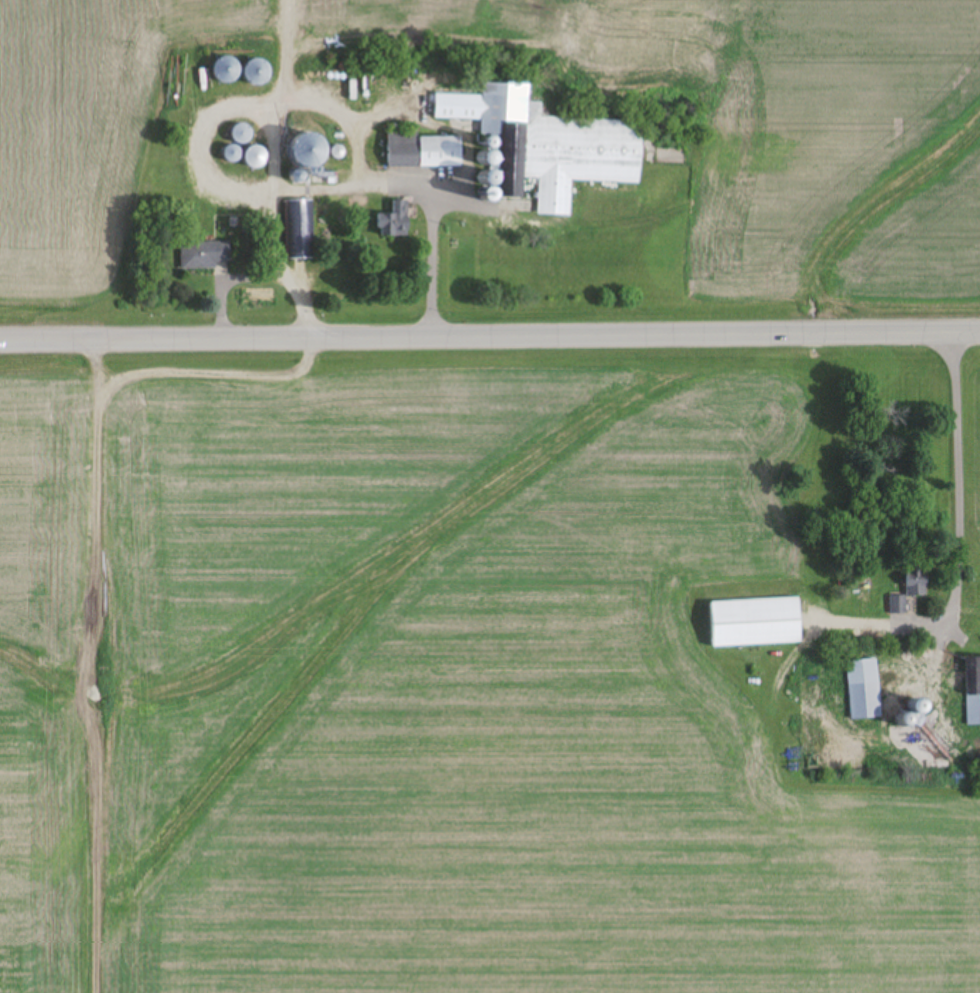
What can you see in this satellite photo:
building: (227, 71)
building: (256, 74)
building: (311, 96)
building: (240, 134)
building: (559, 145)
building: (422, 151)
building: (309, 157)
building: (394, 221)
building: (298, 230)
building: (205, 255)
road: (490, 335)
road: (960, 555)
building: (917, 579)
building: (897, 604)
building: (758, 621)
building: (865, 689)
building: (974, 690)

